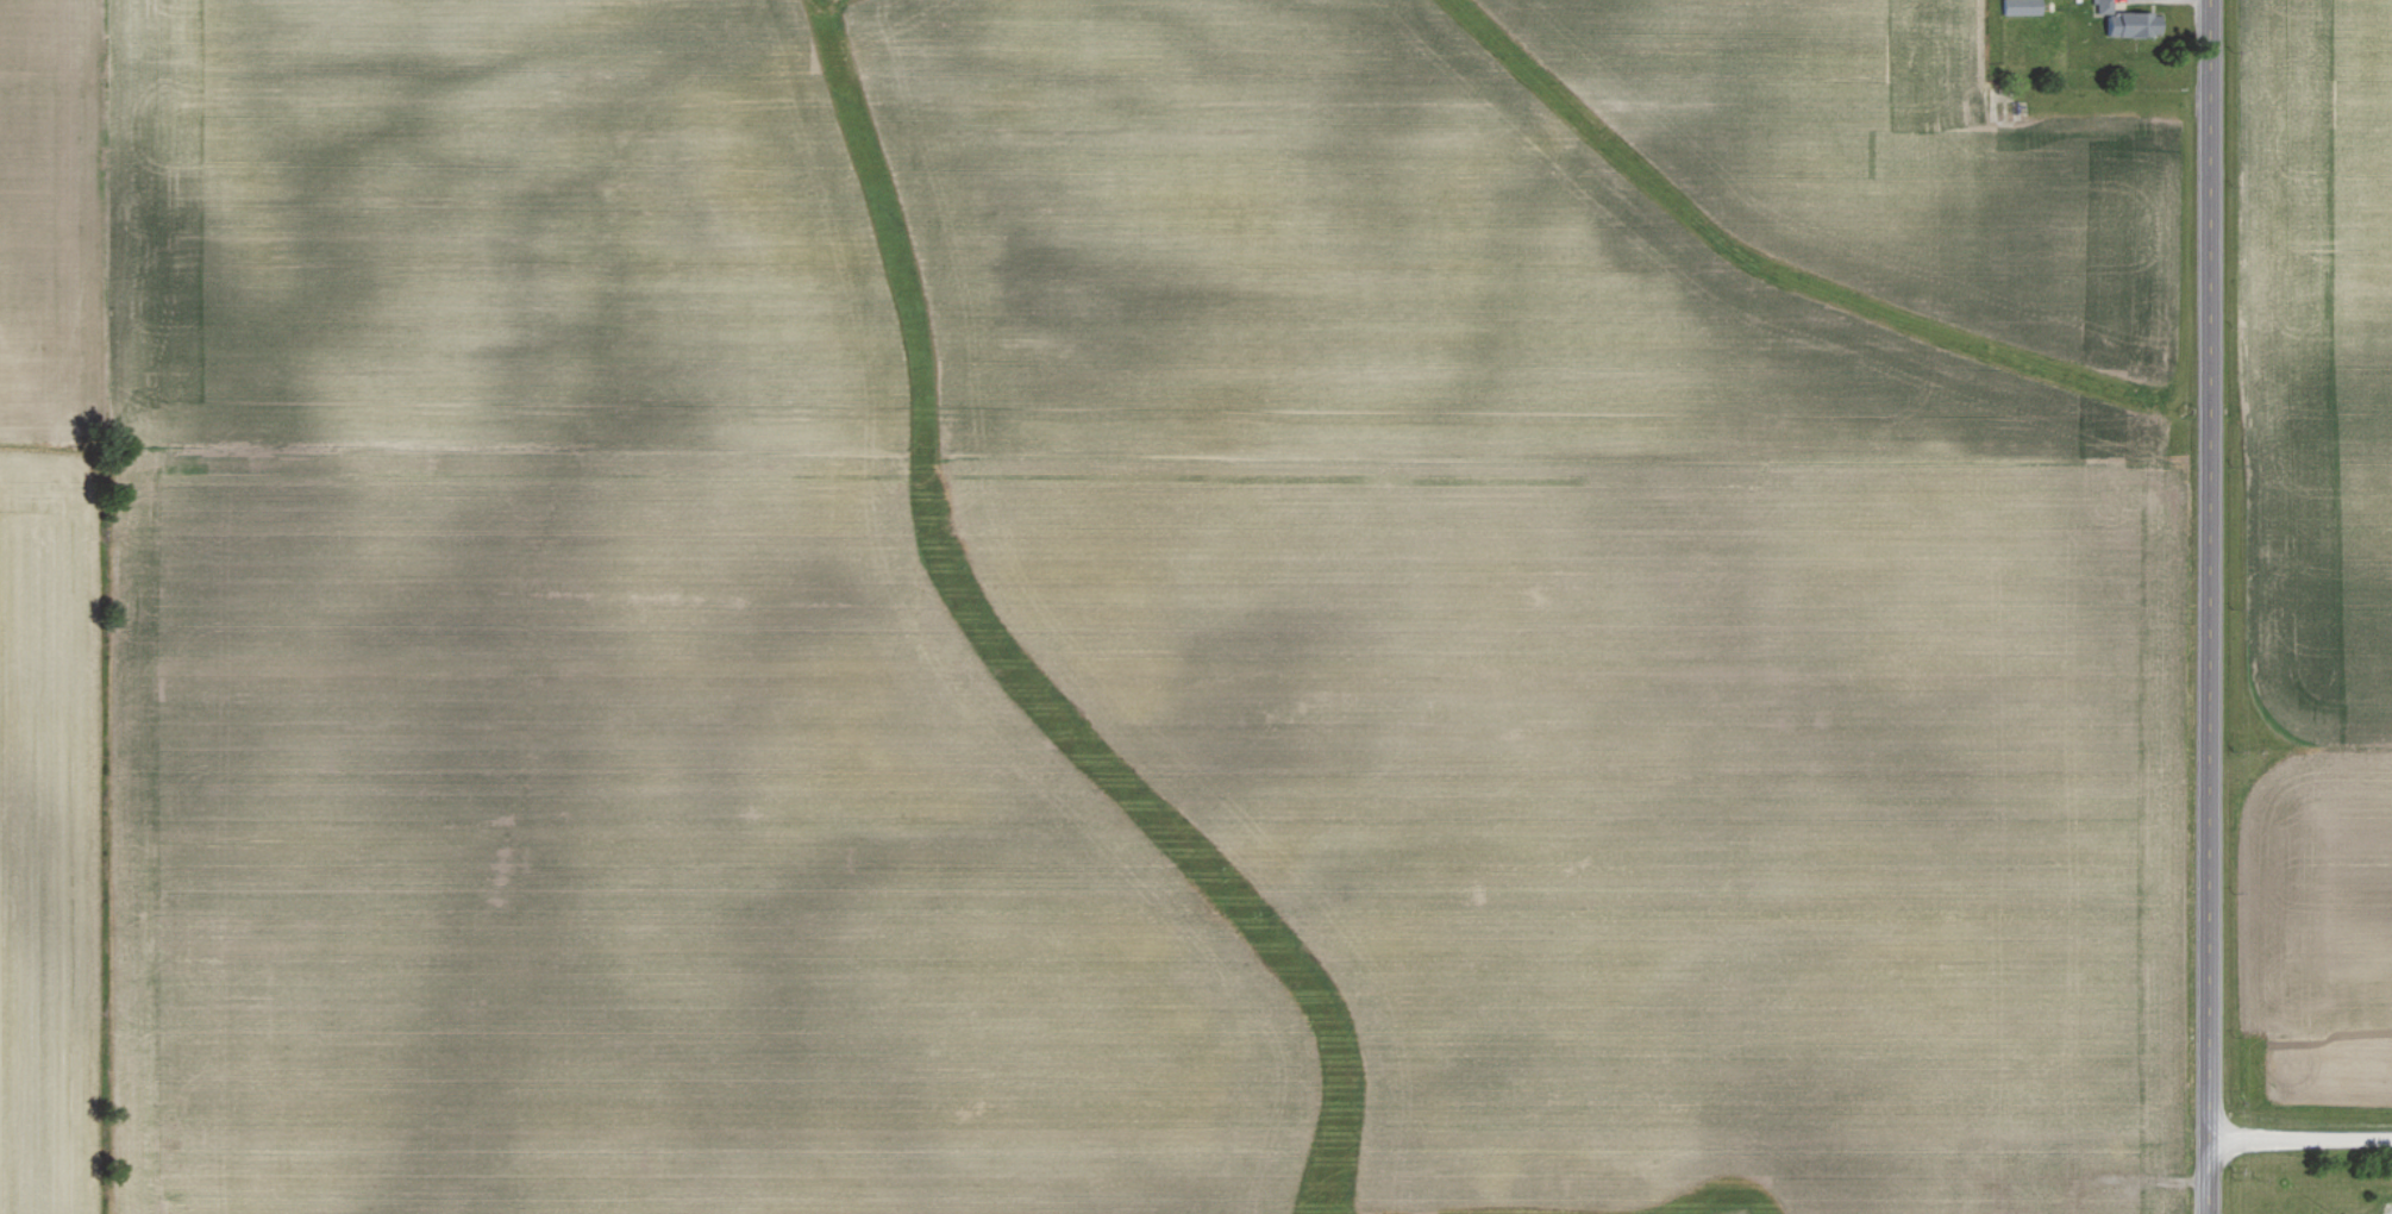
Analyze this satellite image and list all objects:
building: (2020, 7)
building: (2127, 21)
road: (2206, 607)
road: (2299, 1138)
road: (2387, 1210)

